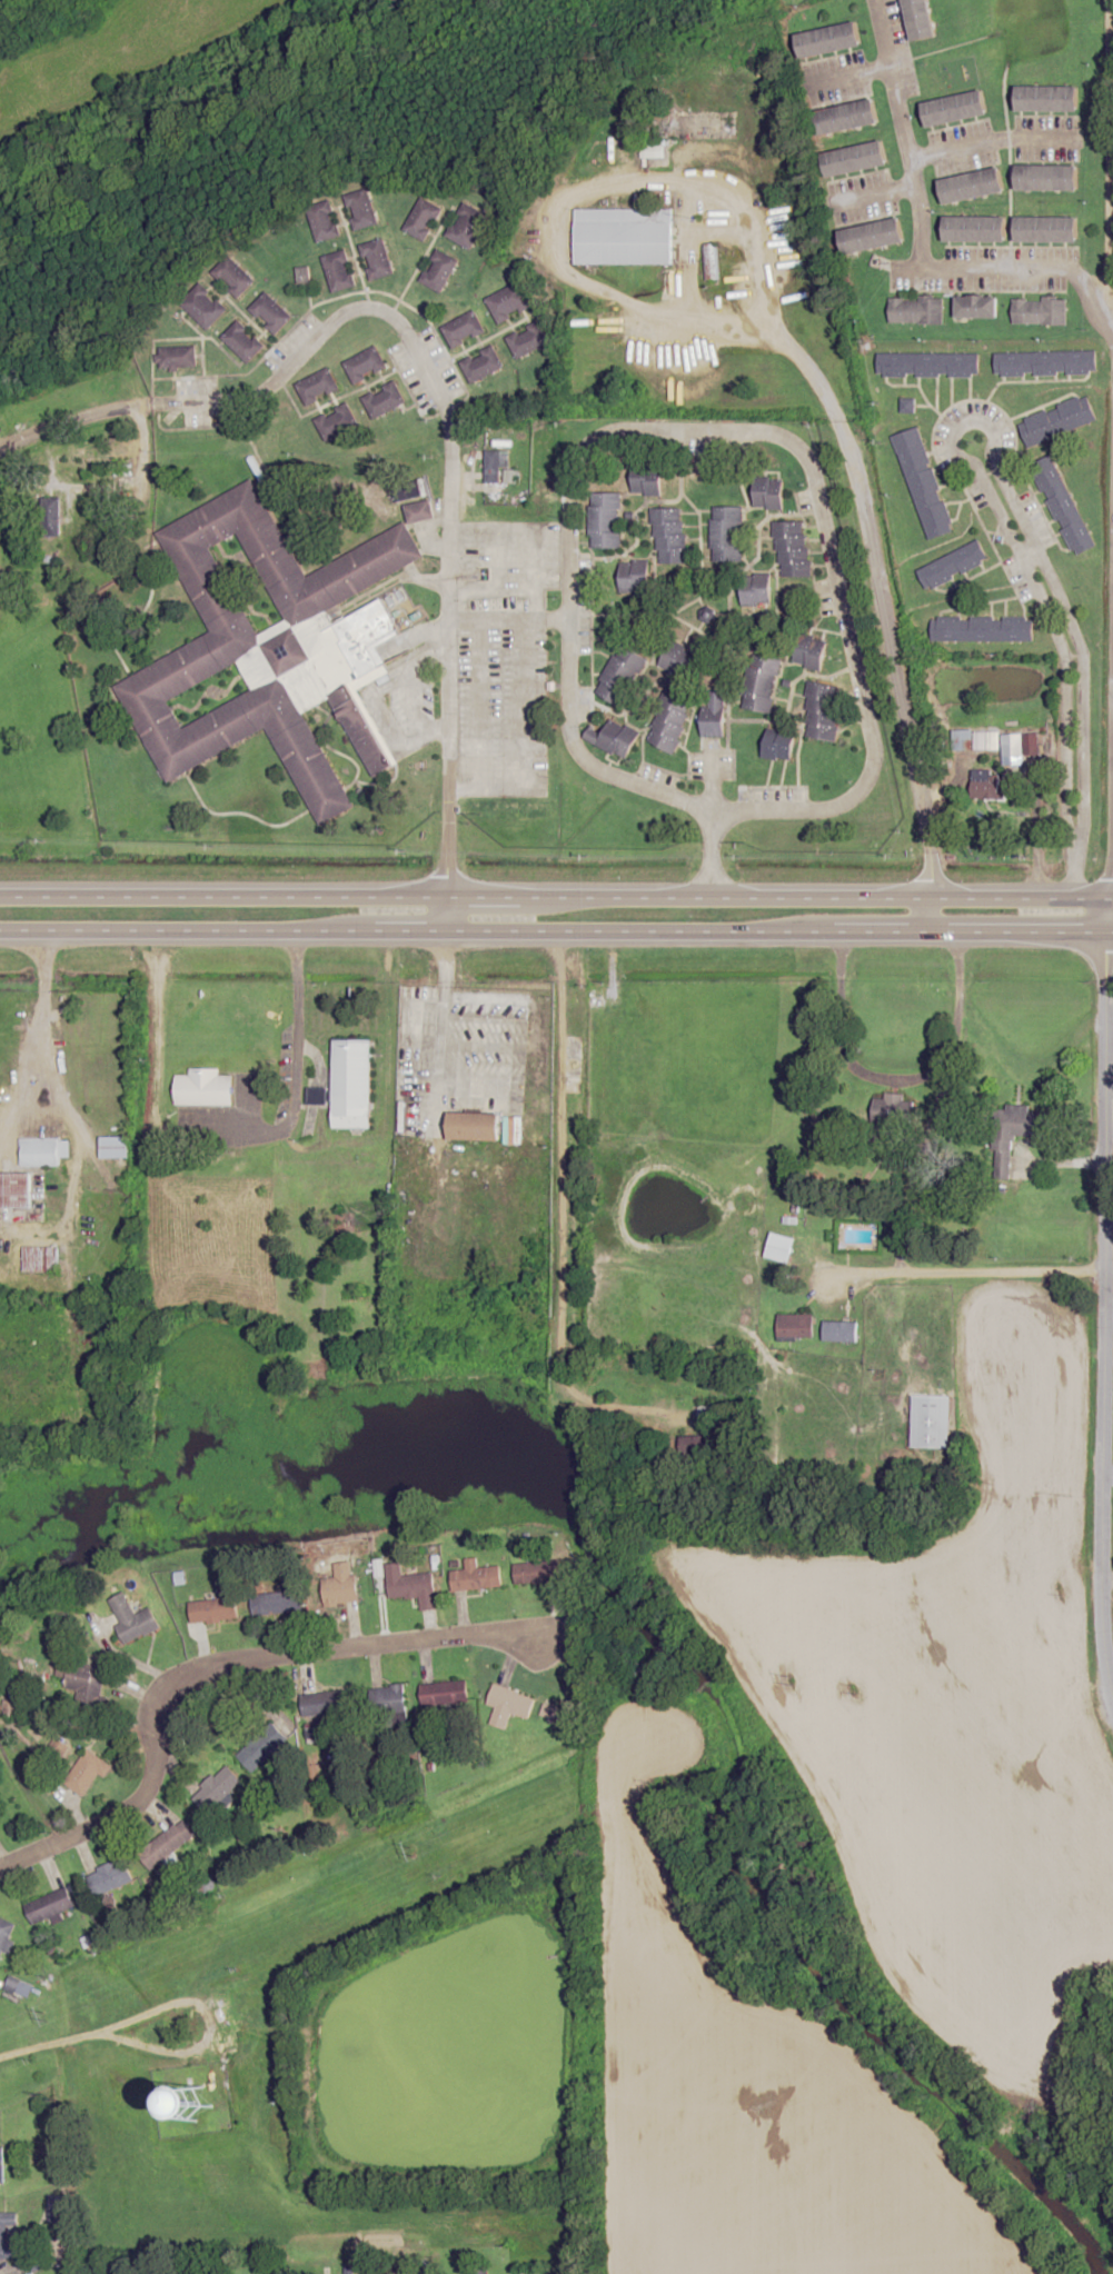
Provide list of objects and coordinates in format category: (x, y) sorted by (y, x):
building: (920, 19)
building: (829, 39)
crop: (115, 58)
road: (851, 72)
building: (1050, 98)
building: (956, 108)
building: (847, 116)
road: (993, 140)
building: (654, 149)
building: (856, 158)
road: (1109, 172)
building: (1047, 178)
road: (642, 183)
building: (973, 186)
road: (877, 192)
building: (361, 209)
building: (424, 218)
building: (324, 221)
building: (468, 225)
building: (976, 229)
building: (1047, 229)
building: (624, 236)
building: (874, 236)
road: (920, 238)
building: (377, 259)
road: (906, 268)
building: (339, 270)
building: (439, 270)
building: (304, 275)
building: (235, 277)
building: (508, 302)
building: (205, 306)
building: (978, 307)
building: (917, 310)
building: (271, 311)
building: (1040, 311)
building: (463, 330)
building: (528, 340)
building: (244, 341)
building: (176, 359)
building: (1045, 361)
building: (481, 363)
building: (927, 363)
building: (365, 365)
road: (433, 385)
building: (317, 386)
building: (384, 400)
building: (907, 405)
building: (1057, 420)
building: (336, 422)
road: (952, 430)
road: (796, 453)
building: (497, 469)
building: (647, 479)
building: (923, 483)
building: (768, 491)
building: (1063, 505)
building: (419, 511)
building: (69, 518)
building: (604, 520)
road: (867, 528)
building: (726, 533)
building: (669, 536)
building: (792, 548)
building: (952, 563)
building: (634, 577)
building: (4, 582)
building: (756, 589)
building: (0, 614)
building: (707, 615)
building: (982, 629)
building: (269, 647)
building: (809, 651)
parking lot: (501, 656)
building: (677, 661)
road: (405, 675)
building: (620, 675)
building: (761, 684)
building: (821, 711)
building: (714, 715)
building: (669, 718)
building: (613, 738)
building: (967, 740)
building: (778, 744)
building: (988, 785)
road: (707, 854)
road: (1073, 875)
road: (1109, 888)
road: (556, 898)
road: (448, 914)
road: (556, 931)
building: (351, 1083)
road: (384, 1083)
building: (205, 1087)
road: (43, 1099)
building: (888, 1108)
building: (476, 1125)
building: (1013, 1133)
building: (115, 1146)
building: (43, 1150)
building: (16, 1189)
road: (550, 1223)
building: (40, 1257)
road: (911, 1275)
road: (1099, 1301)
building: (795, 1325)
building: (839, 1330)
building: (704, 1413)
building: (930, 1420)
building: (537, 1572)
building: (476, 1575)
building: (341, 1584)
building: (411, 1585)
building: (272, 1604)
building: (212, 1609)
building: (132, 1618)
road: (222, 1673)
building: (81, 1682)
building: (445, 1693)
building: (311, 1696)
building: (390, 1700)
building: (508, 1705)
building: (265, 1745)
building: (56, 1749)
building: (87, 1773)
building: (217, 1788)
building: (167, 1844)
building: (111, 1877)
building: (50, 1906)
building: (7, 1935)
road: (161, 2011)
road: (46, 2047)
building: (1, 2165)
building: (54, 2208)
building: (3, 2235)

